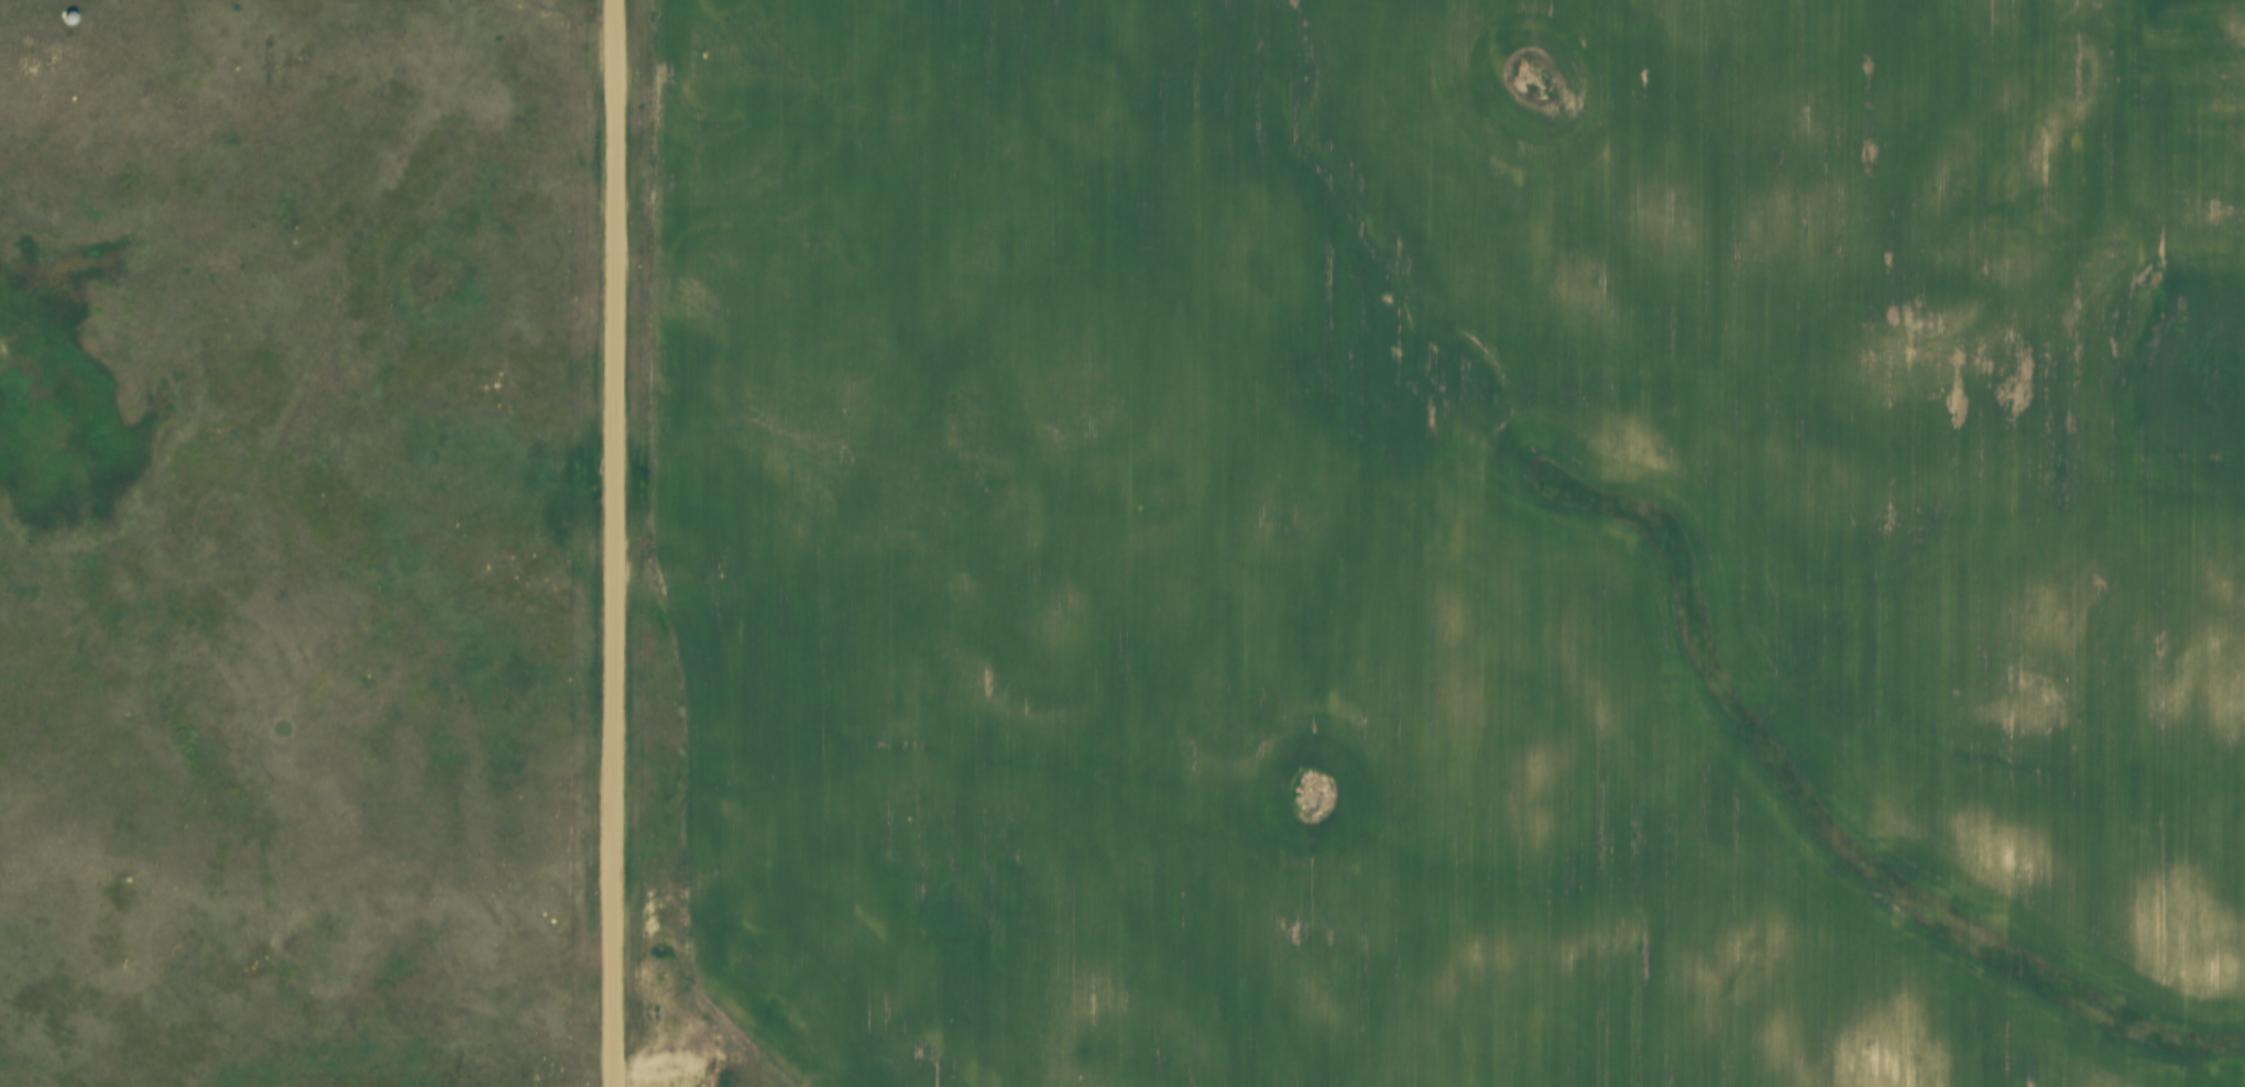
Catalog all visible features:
road: (615, 543)

